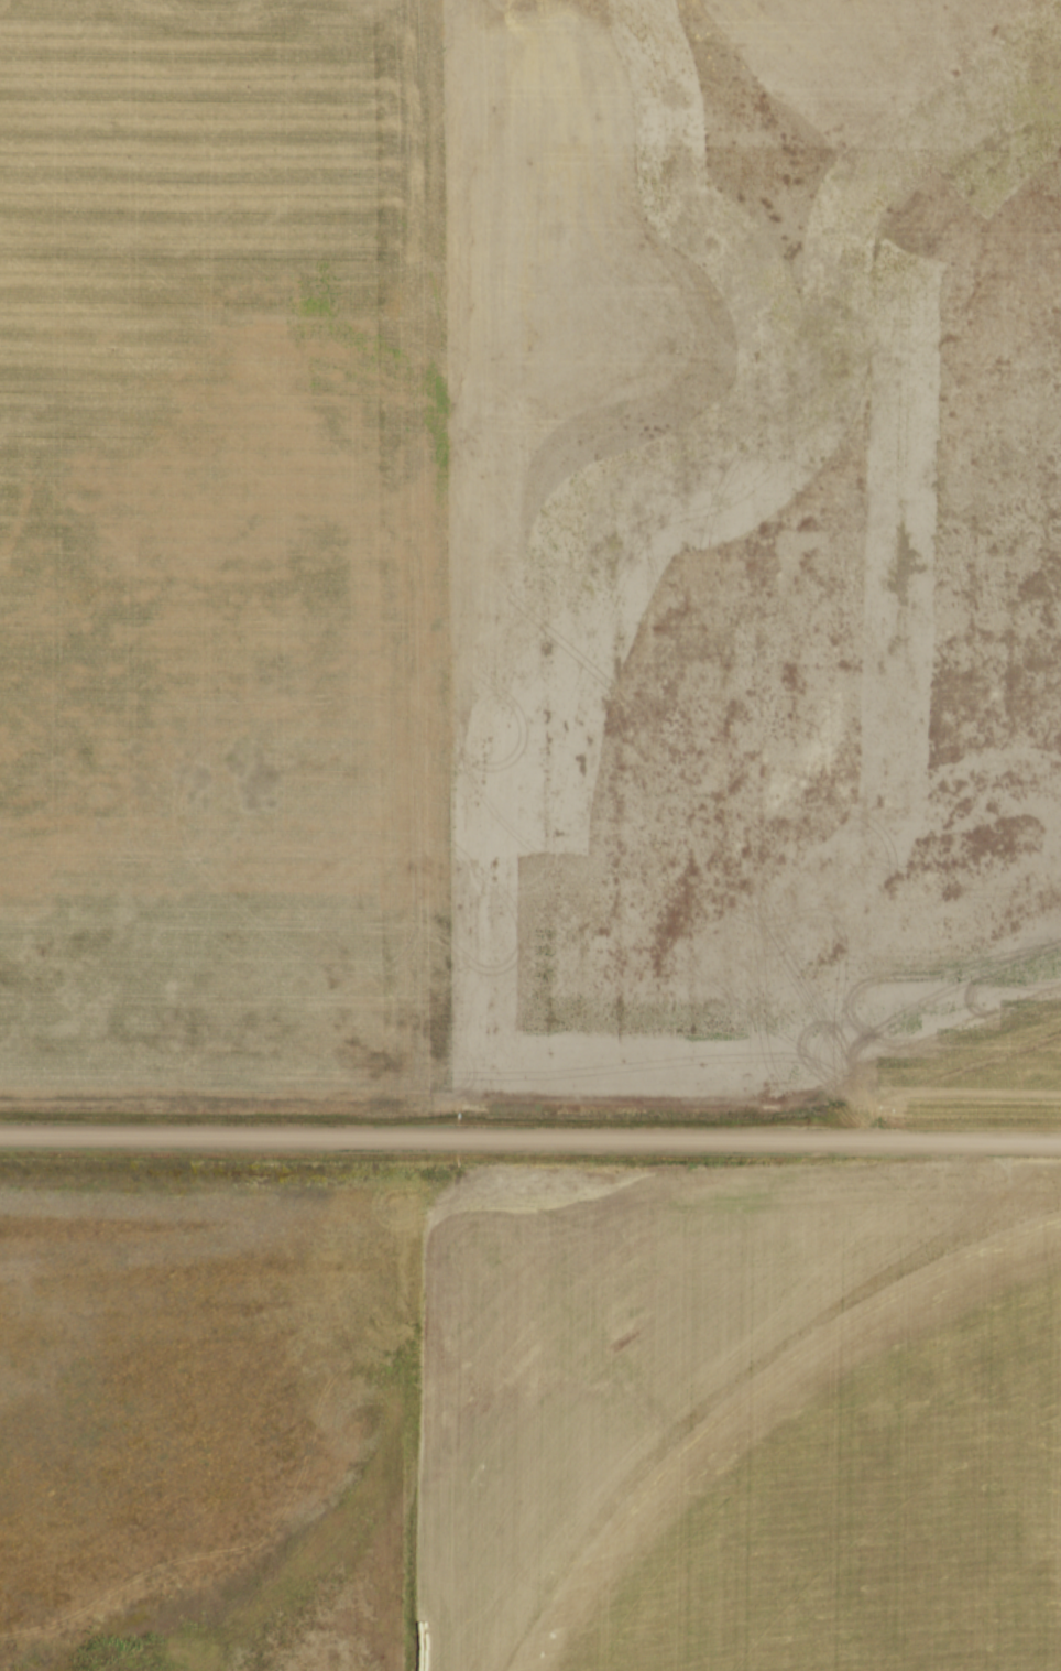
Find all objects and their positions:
crop: (530, 556)
road: (530, 1140)
crop: (784, 1450)

